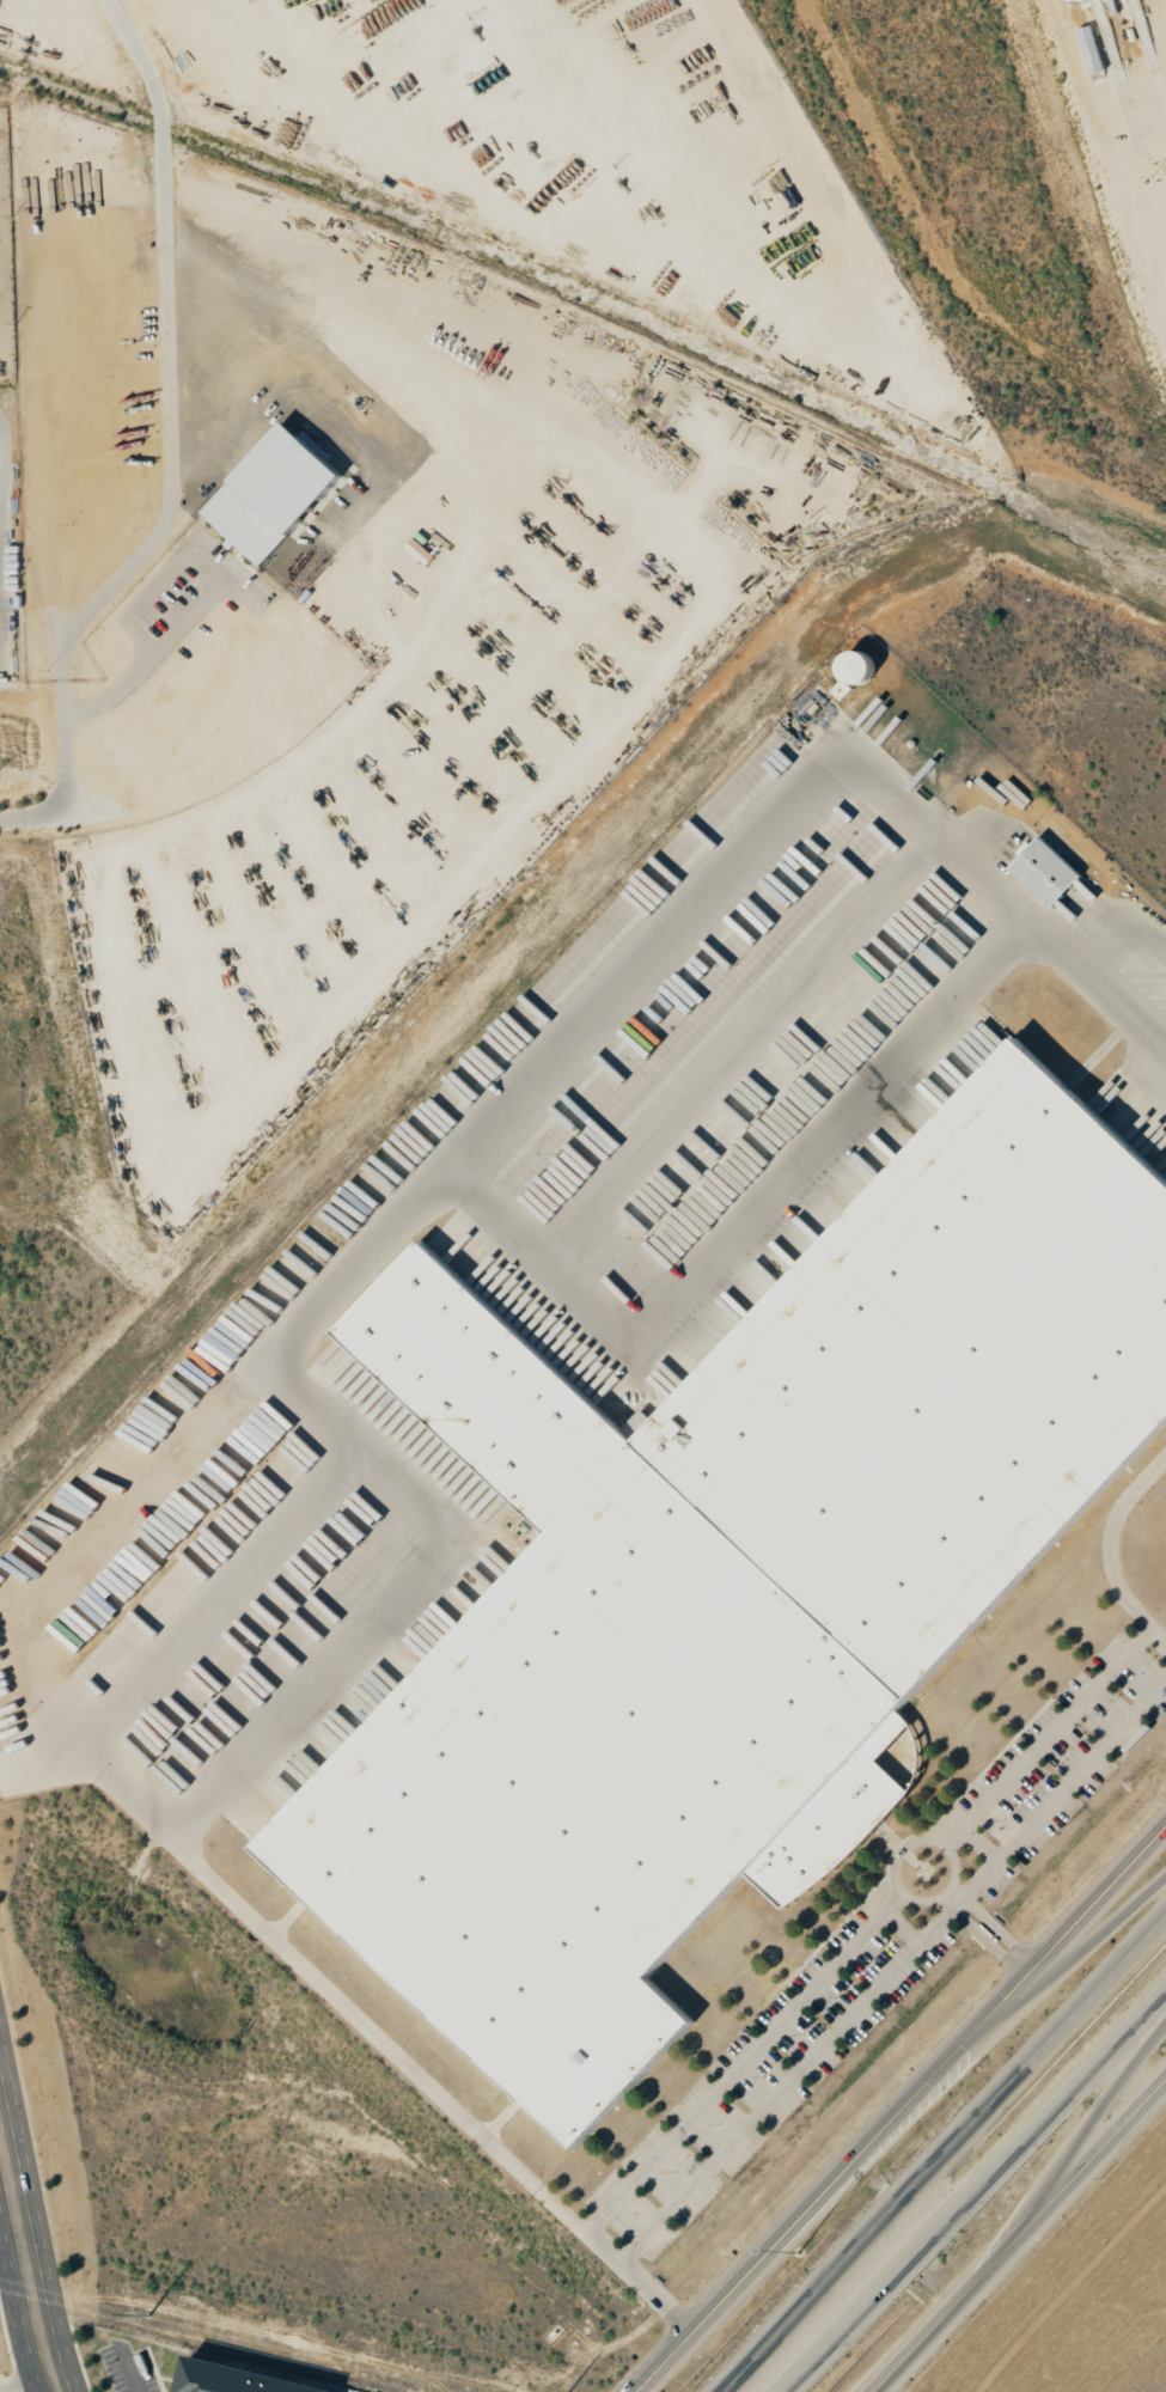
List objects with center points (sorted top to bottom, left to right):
building: (1092, 49)
road: (1110, 159)
road: (179, 451)
building: (274, 493)
building: (1046, 871)
road: (508, 1113)
building: (639, 1424)
building: (734, 1588)
road: (963, 1884)
road: (965, 1900)
road: (1001, 1924)
road: (989, 1935)
road: (1072, 1959)
road: (1028, 1963)
road: (384, 2043)
road: (902, 2111)
road: (1088, 2116)
road: (945, 2150)
road: (975, 2190)
road: (1017, 2231)
road: (25, 2264)
power tower: (215, 2331)
building: (238, 2379)

